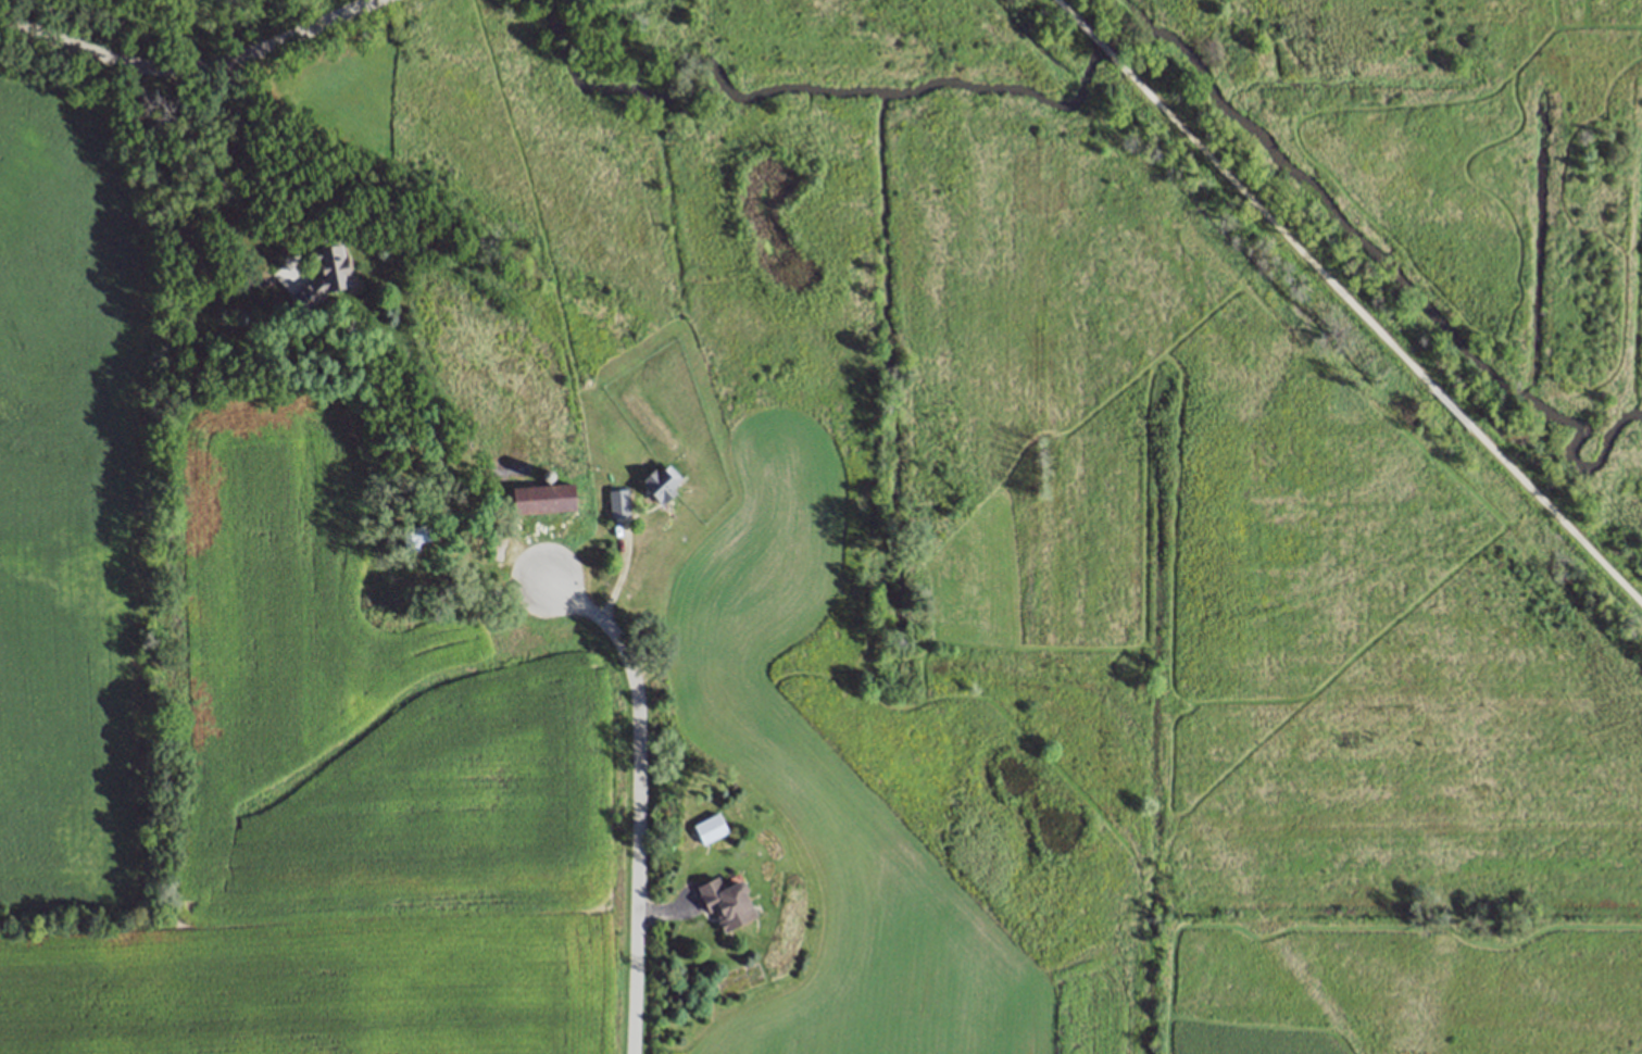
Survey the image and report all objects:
road: (1063, 9)
road: (1099, 46)
road: (191, 68)
road: (202, 197)
building: (324, 274)
road: (1384, 338)
building: (663, 482)
building: (543, 498)
building: (619, 502)
building: (416, 536)
road: (641, 799)
building: (707, 830)
building: (725, 899)

